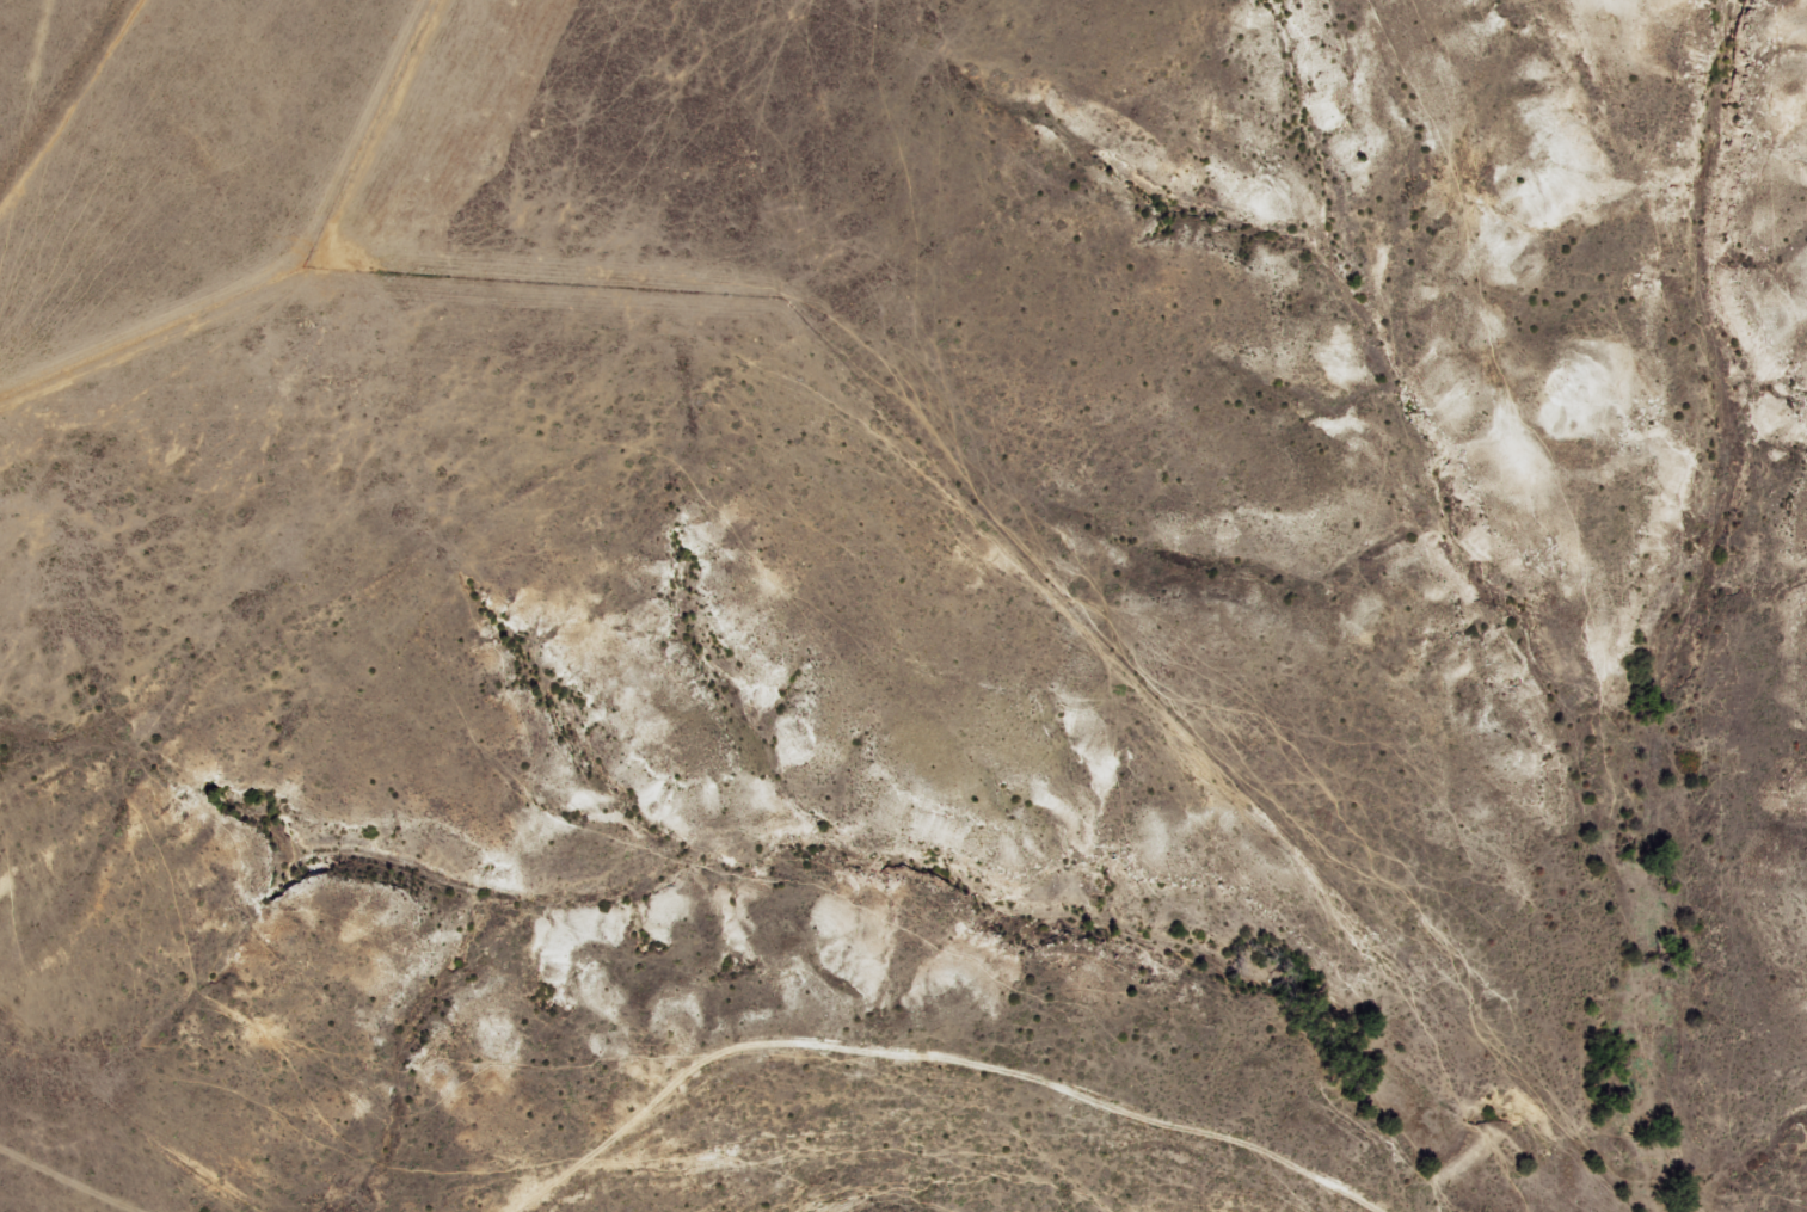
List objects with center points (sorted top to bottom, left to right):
road: (932, 1057)
road: (113, 1107)

